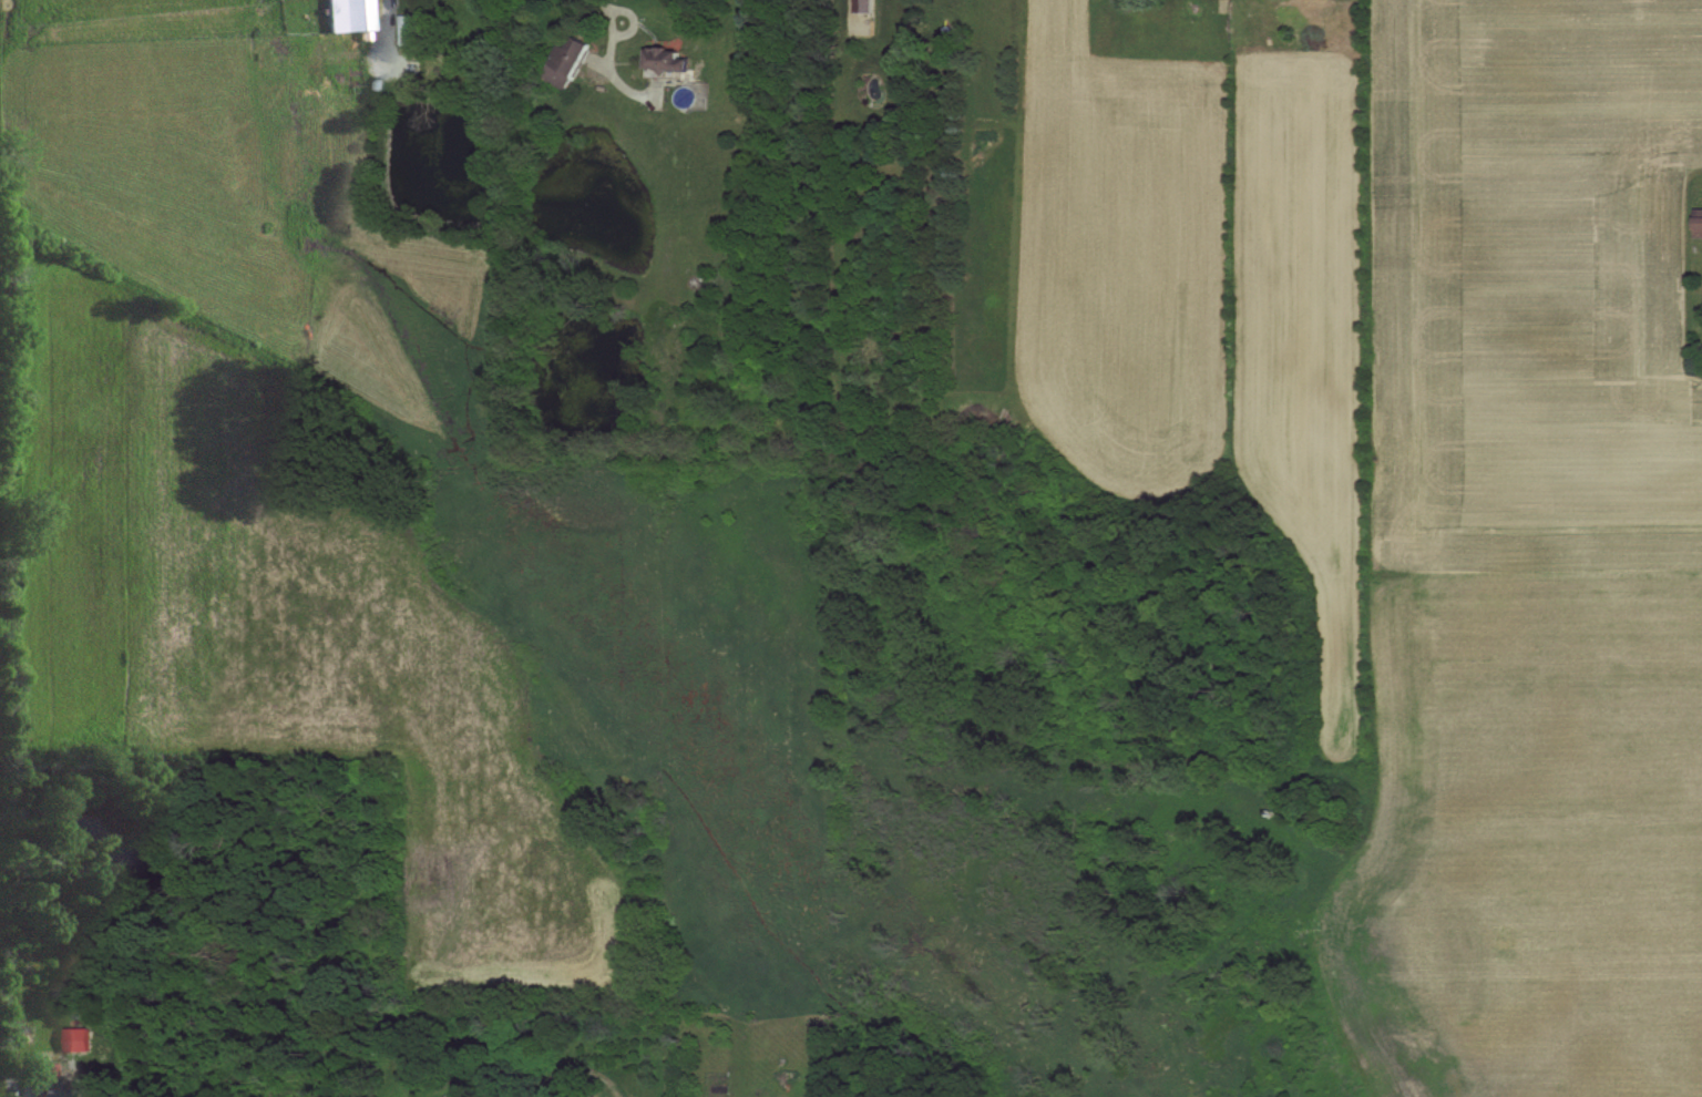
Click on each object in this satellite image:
road: (604, 1)
building: (862, 6)
building: (350, 14)
road: (389, 16)
road: (634, 19)
building: (408, 29)
building: (667, 58)
building: (566, 61)
road: (596, 61)
road: (608, 63)
road: (655, 92)
building: (1698, 223)
building: (495, 1087)
building: (52, 1088)
building: (594, 1095)

